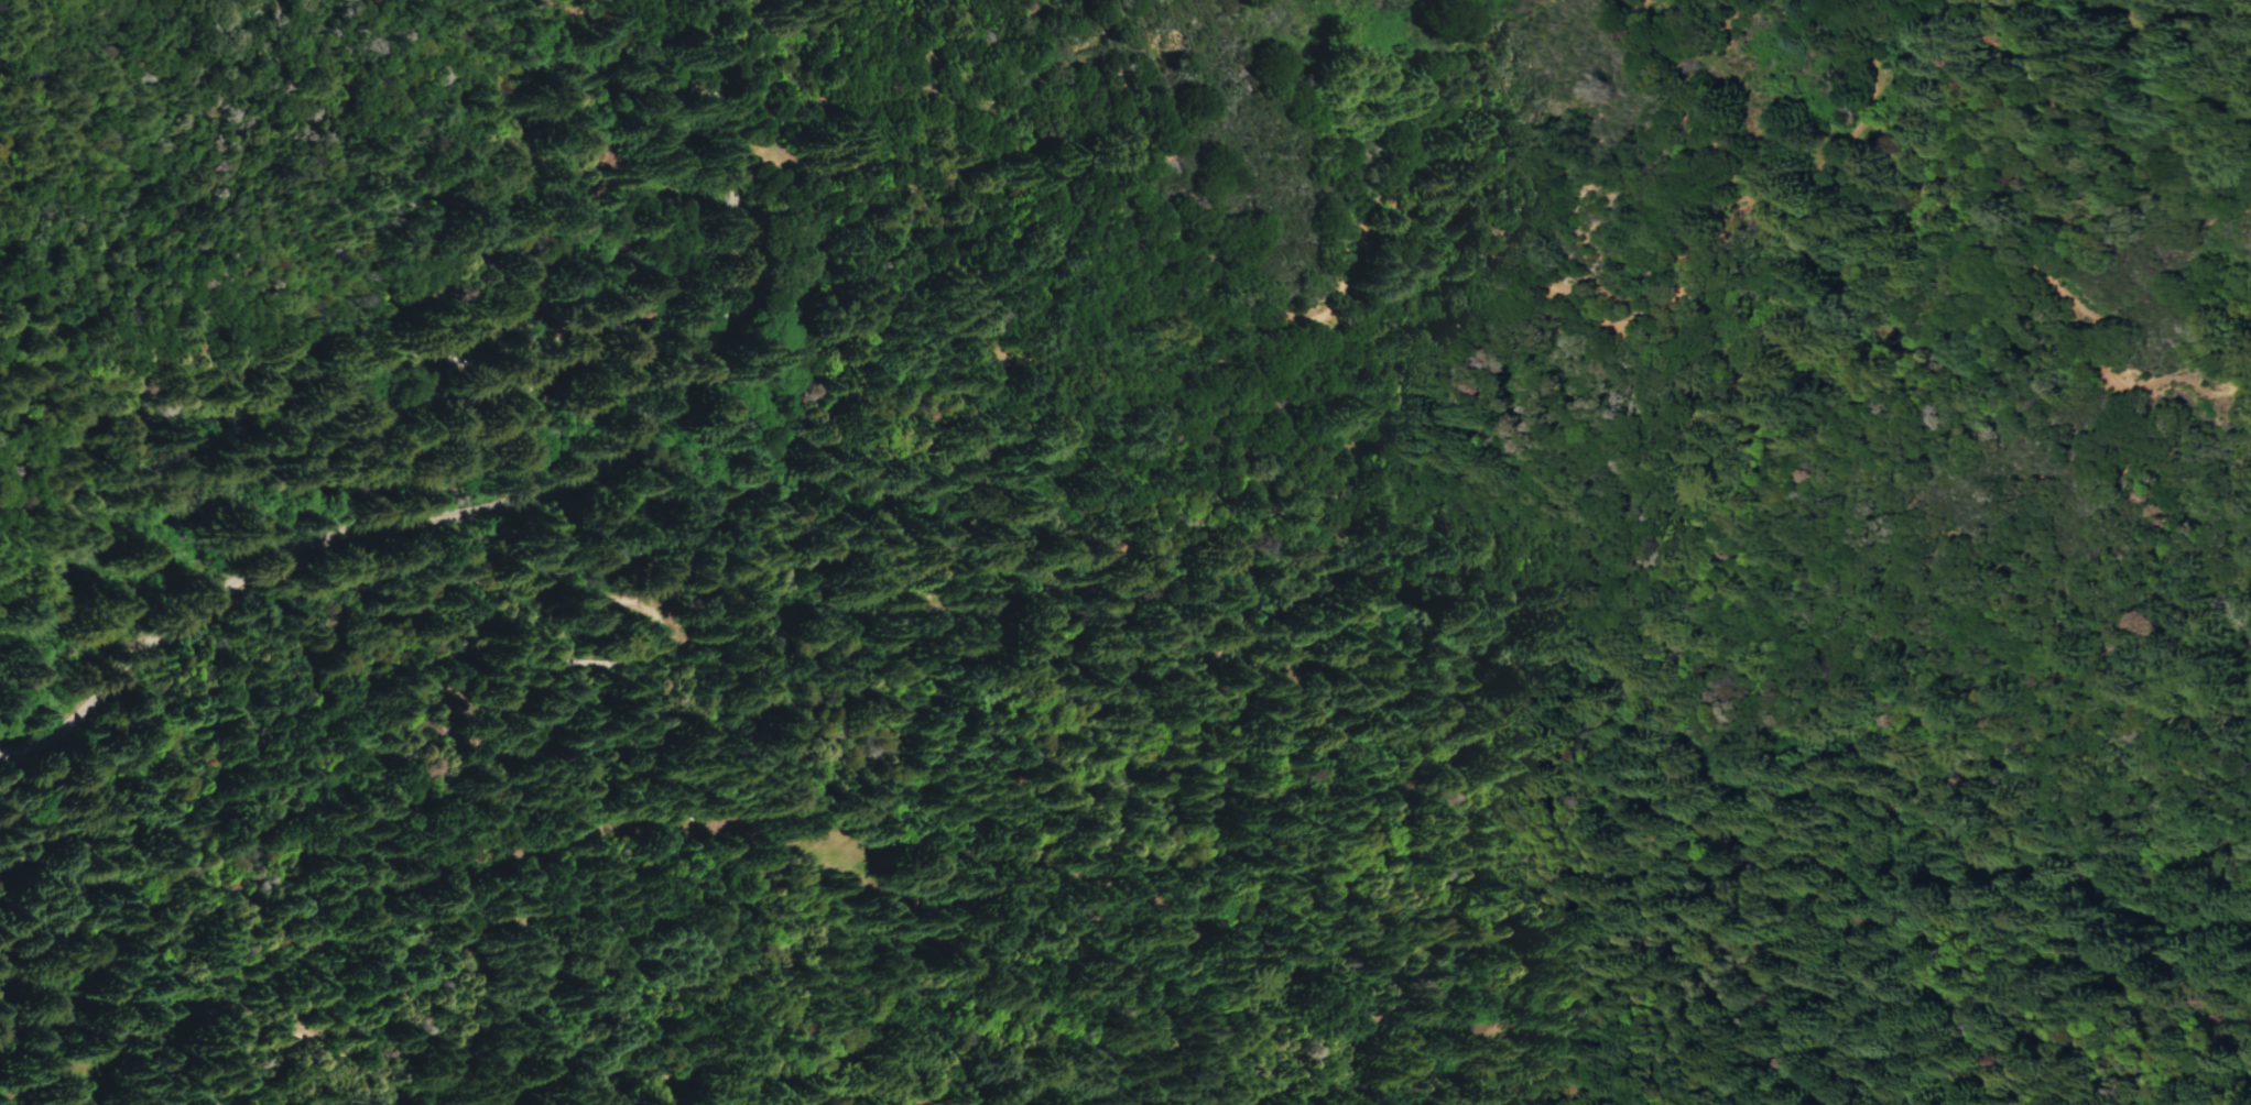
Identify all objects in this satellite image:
road: (744, 200)
road: (2036, 273)
road: (1695, 276)
road: (1067, 364)
building: (559, 379)
road: (671, 420)
road: (300, 552)
road: (124, 688)
road: (334, 731)
road: (1228, 932)
road: (351, 936)

